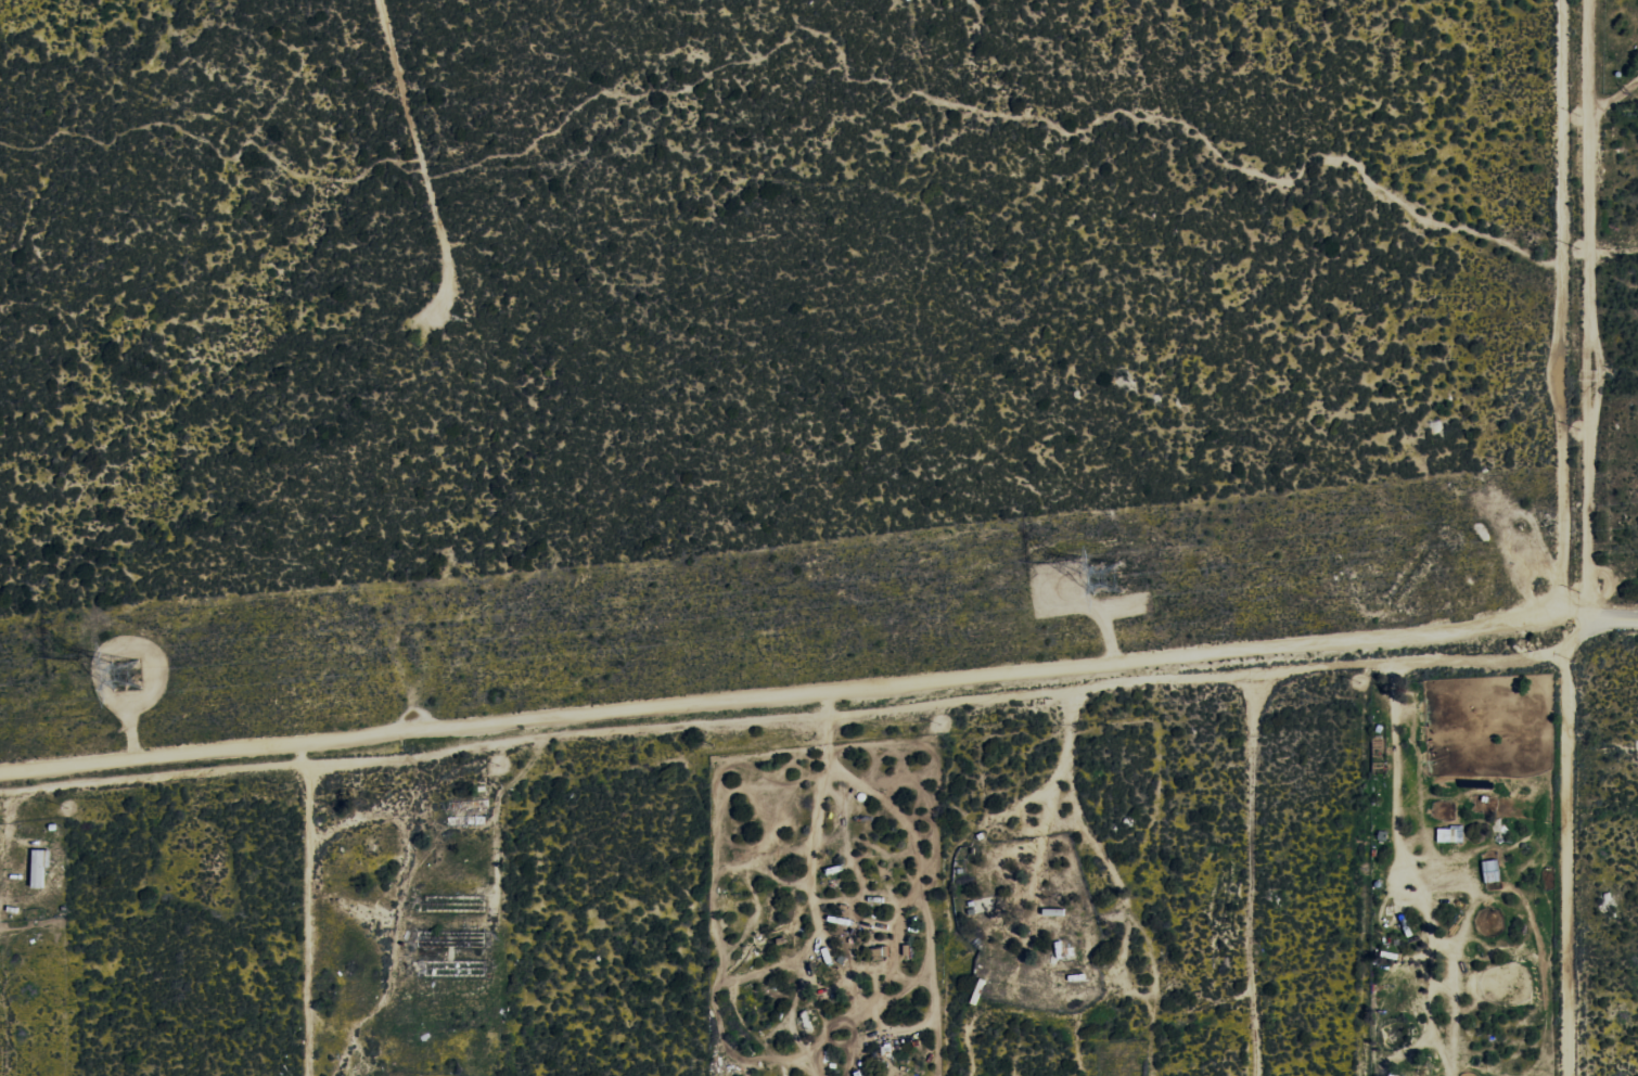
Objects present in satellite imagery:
road: (1571, 306)
power tower: (1105, 577)
road: (1607, 617)
power tower: (126, 674)
road: (790, 697)
building: (1450, 834)

